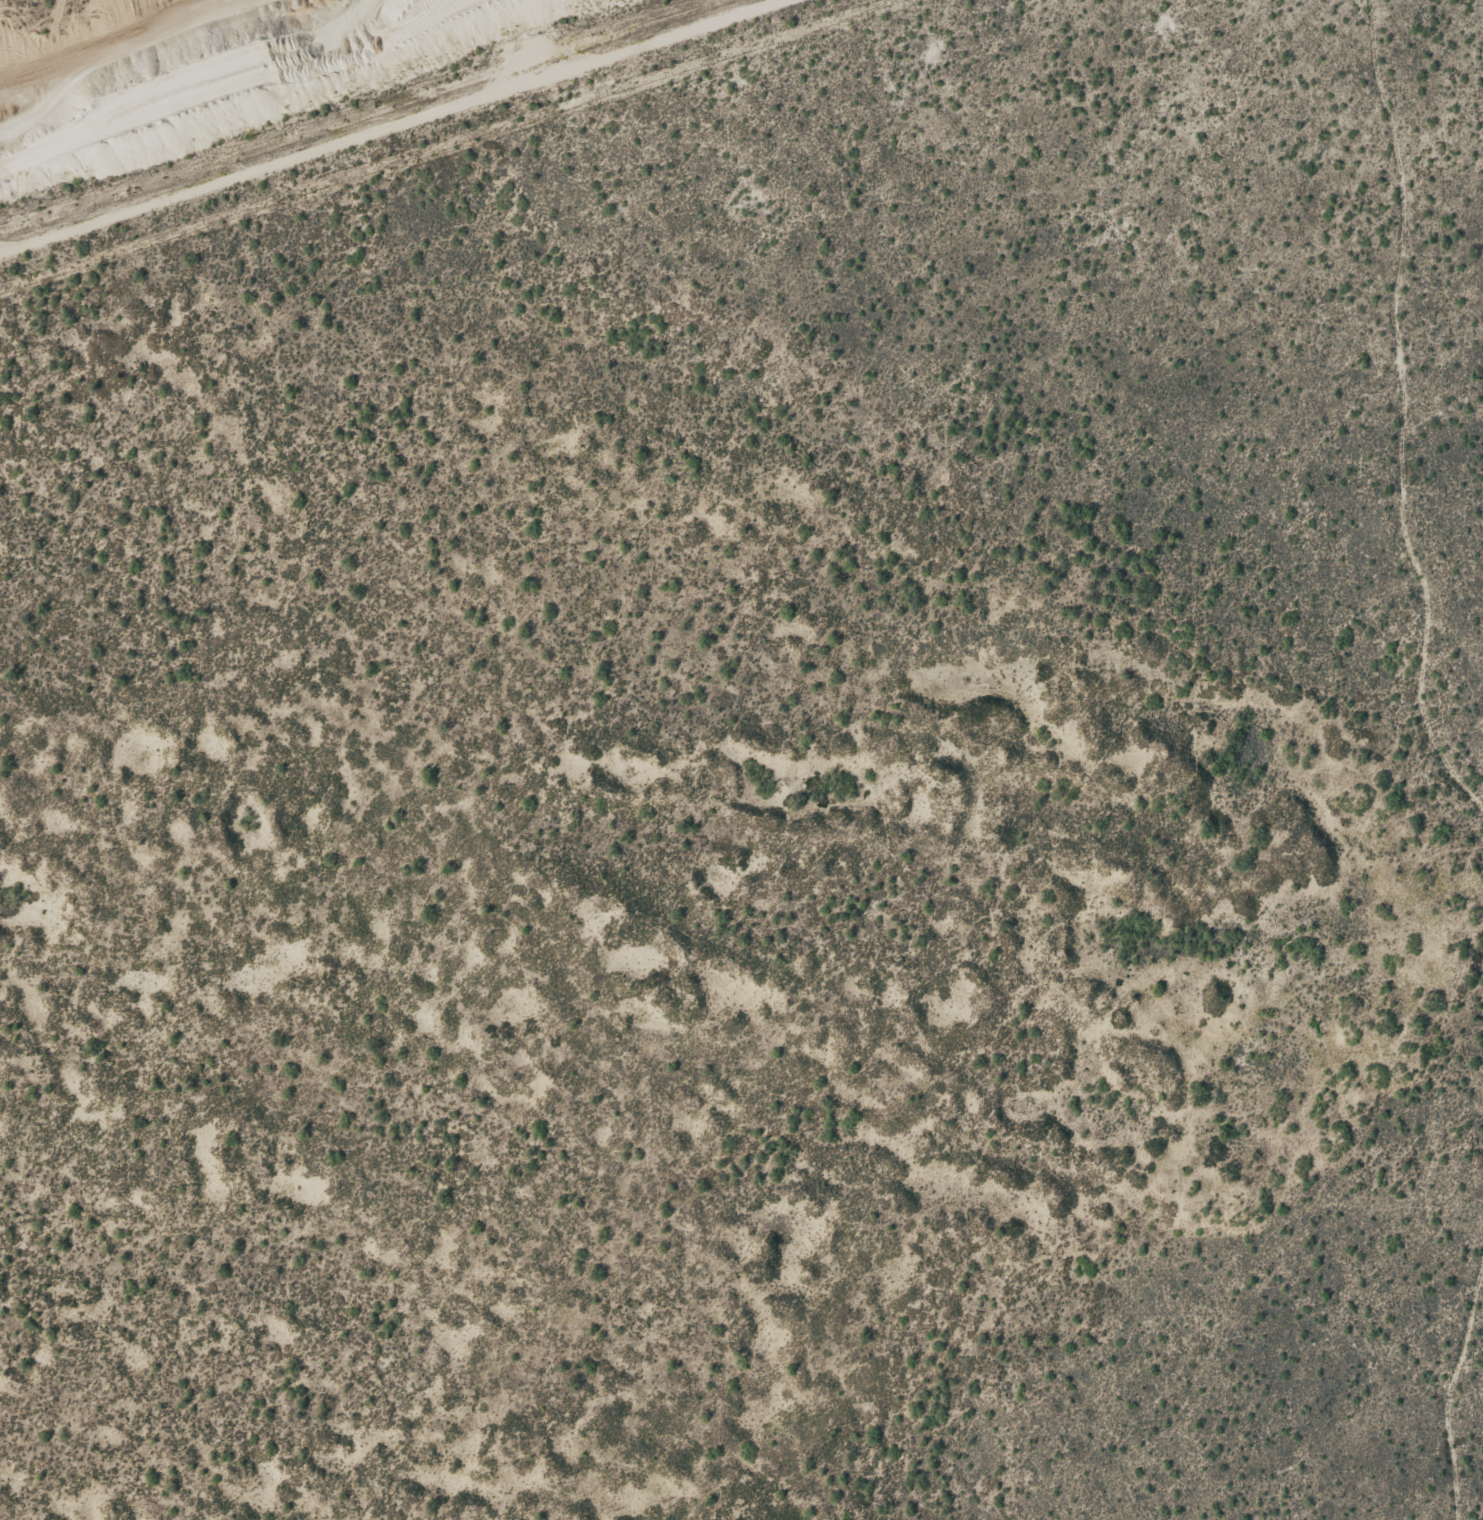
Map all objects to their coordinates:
quarry: (241, 71)
road: (1400, 366)
road: (1417, 1269)

